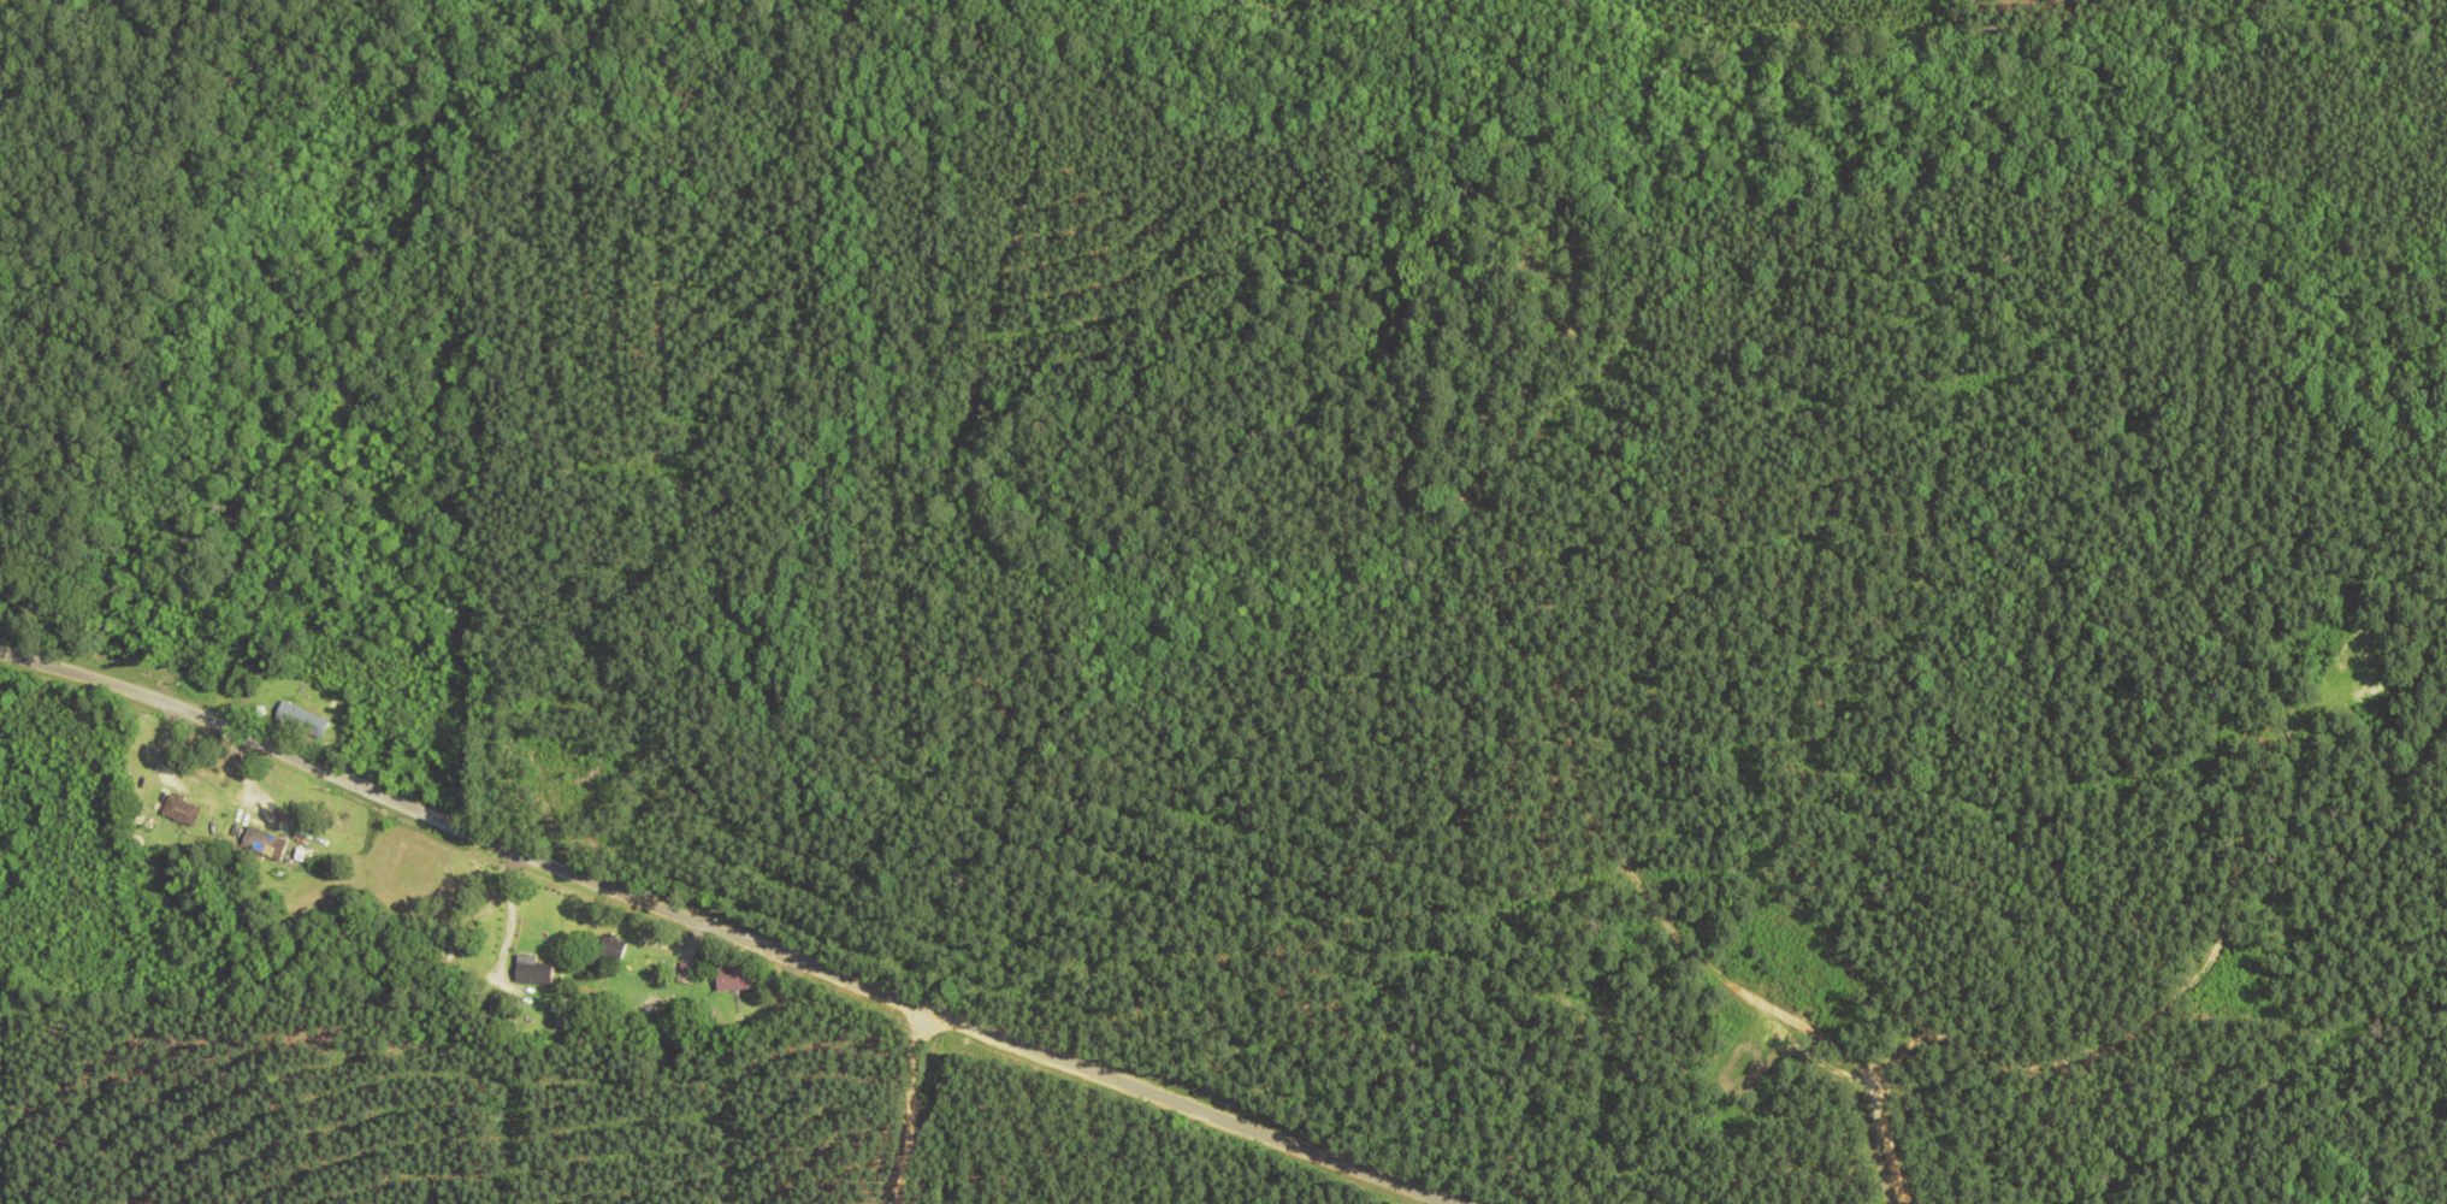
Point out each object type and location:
building: (300, 721)
building: (179, 811)
building: (261, 845)
road: (746, 913)
building: (609, 949)
building: (528, 970)
building: (732, 979)

